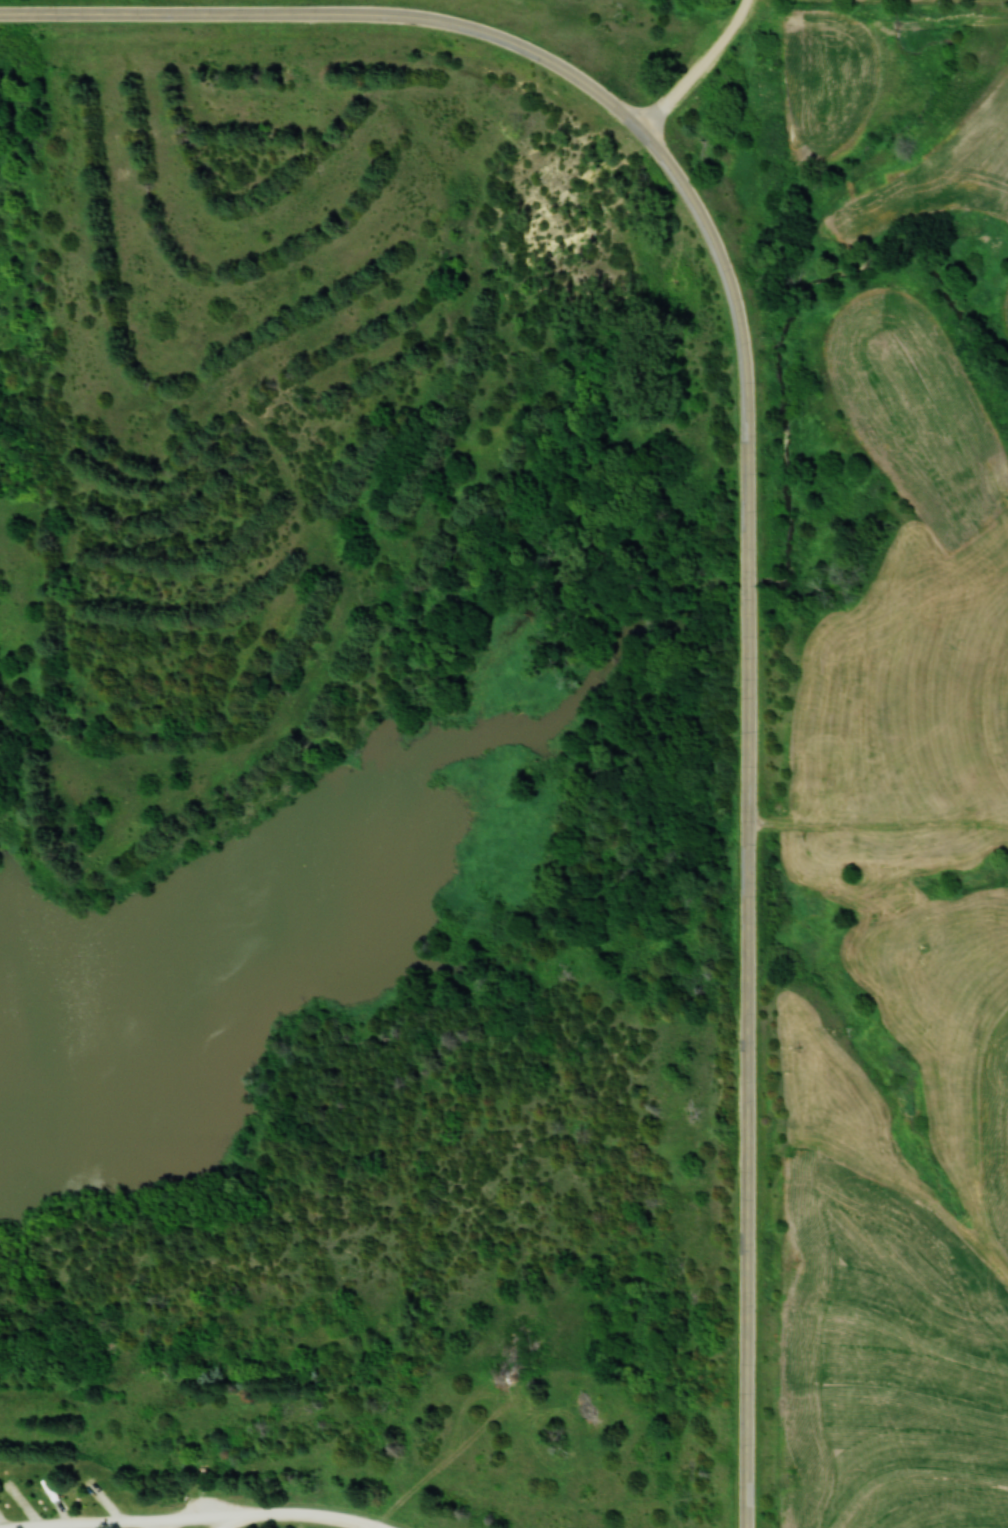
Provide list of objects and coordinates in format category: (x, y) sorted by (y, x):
road: (190, 14)
road: (520, 47)
road: (702, 69)
road: (720, 250)
park: (376, 769)
road: (752, 959)
road: (294, 1514)
road: (190, 1518)
road: (78, 1521)

